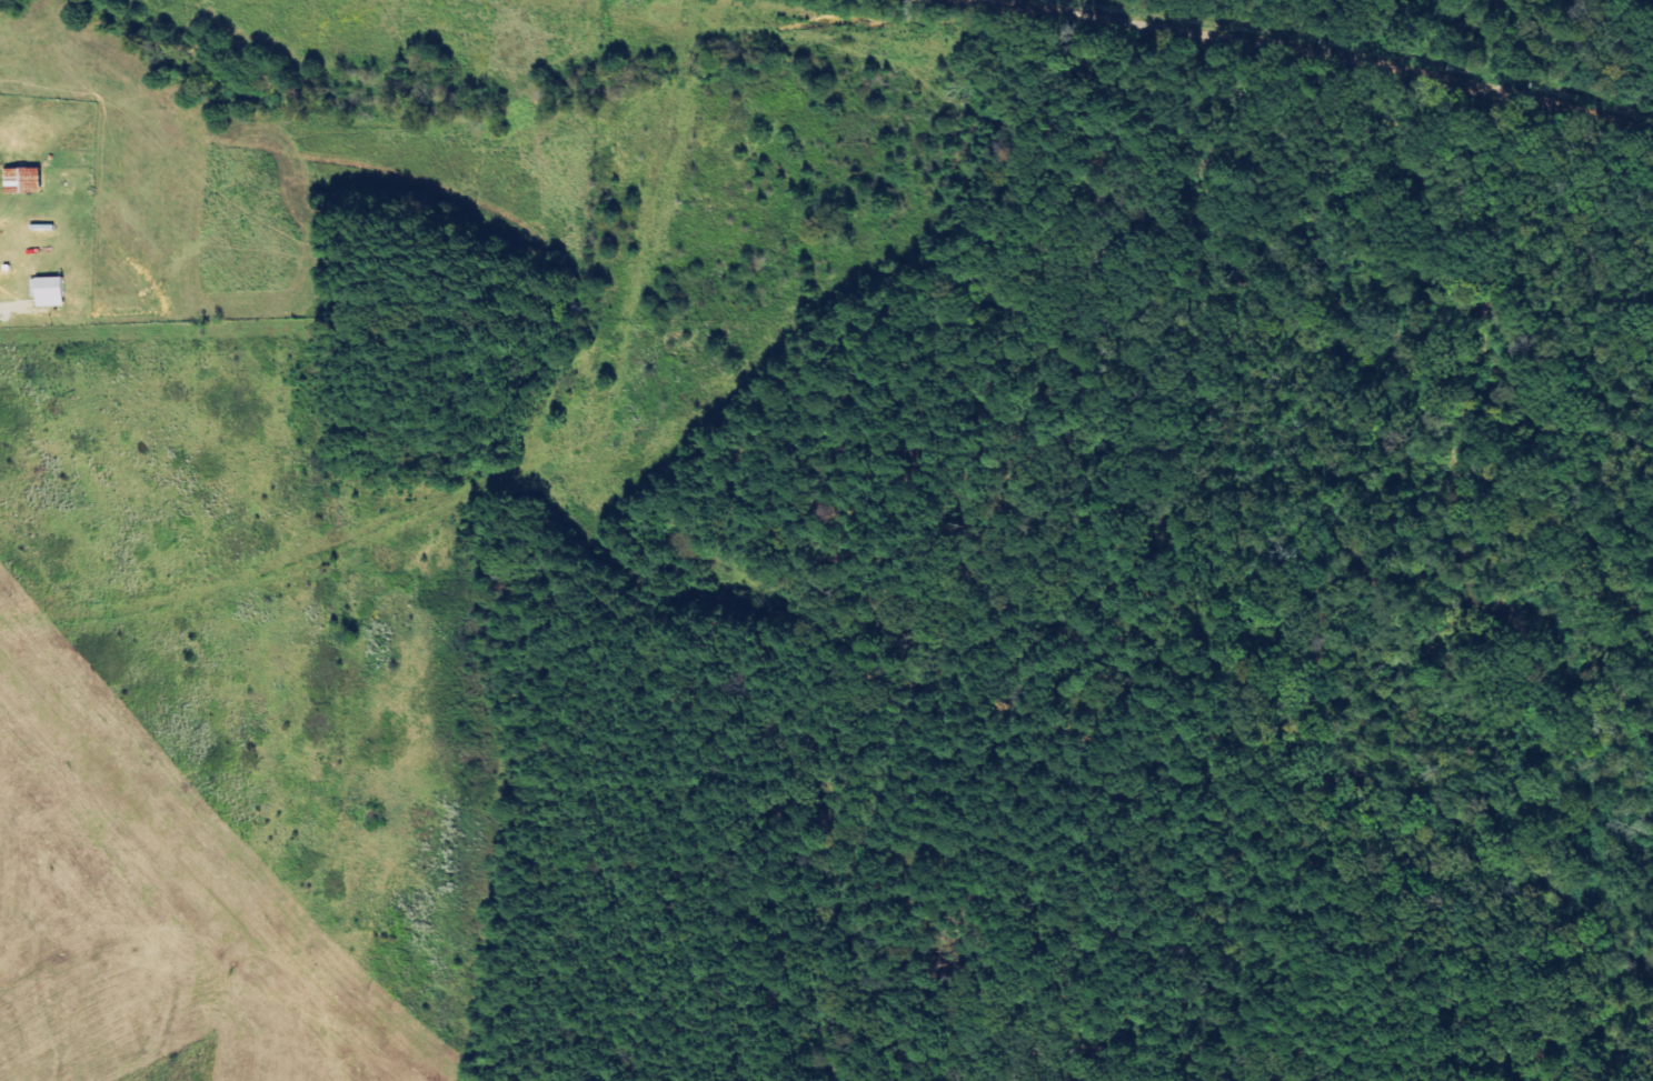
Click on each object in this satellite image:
road: (1308, 54)
building: (47, 291)

